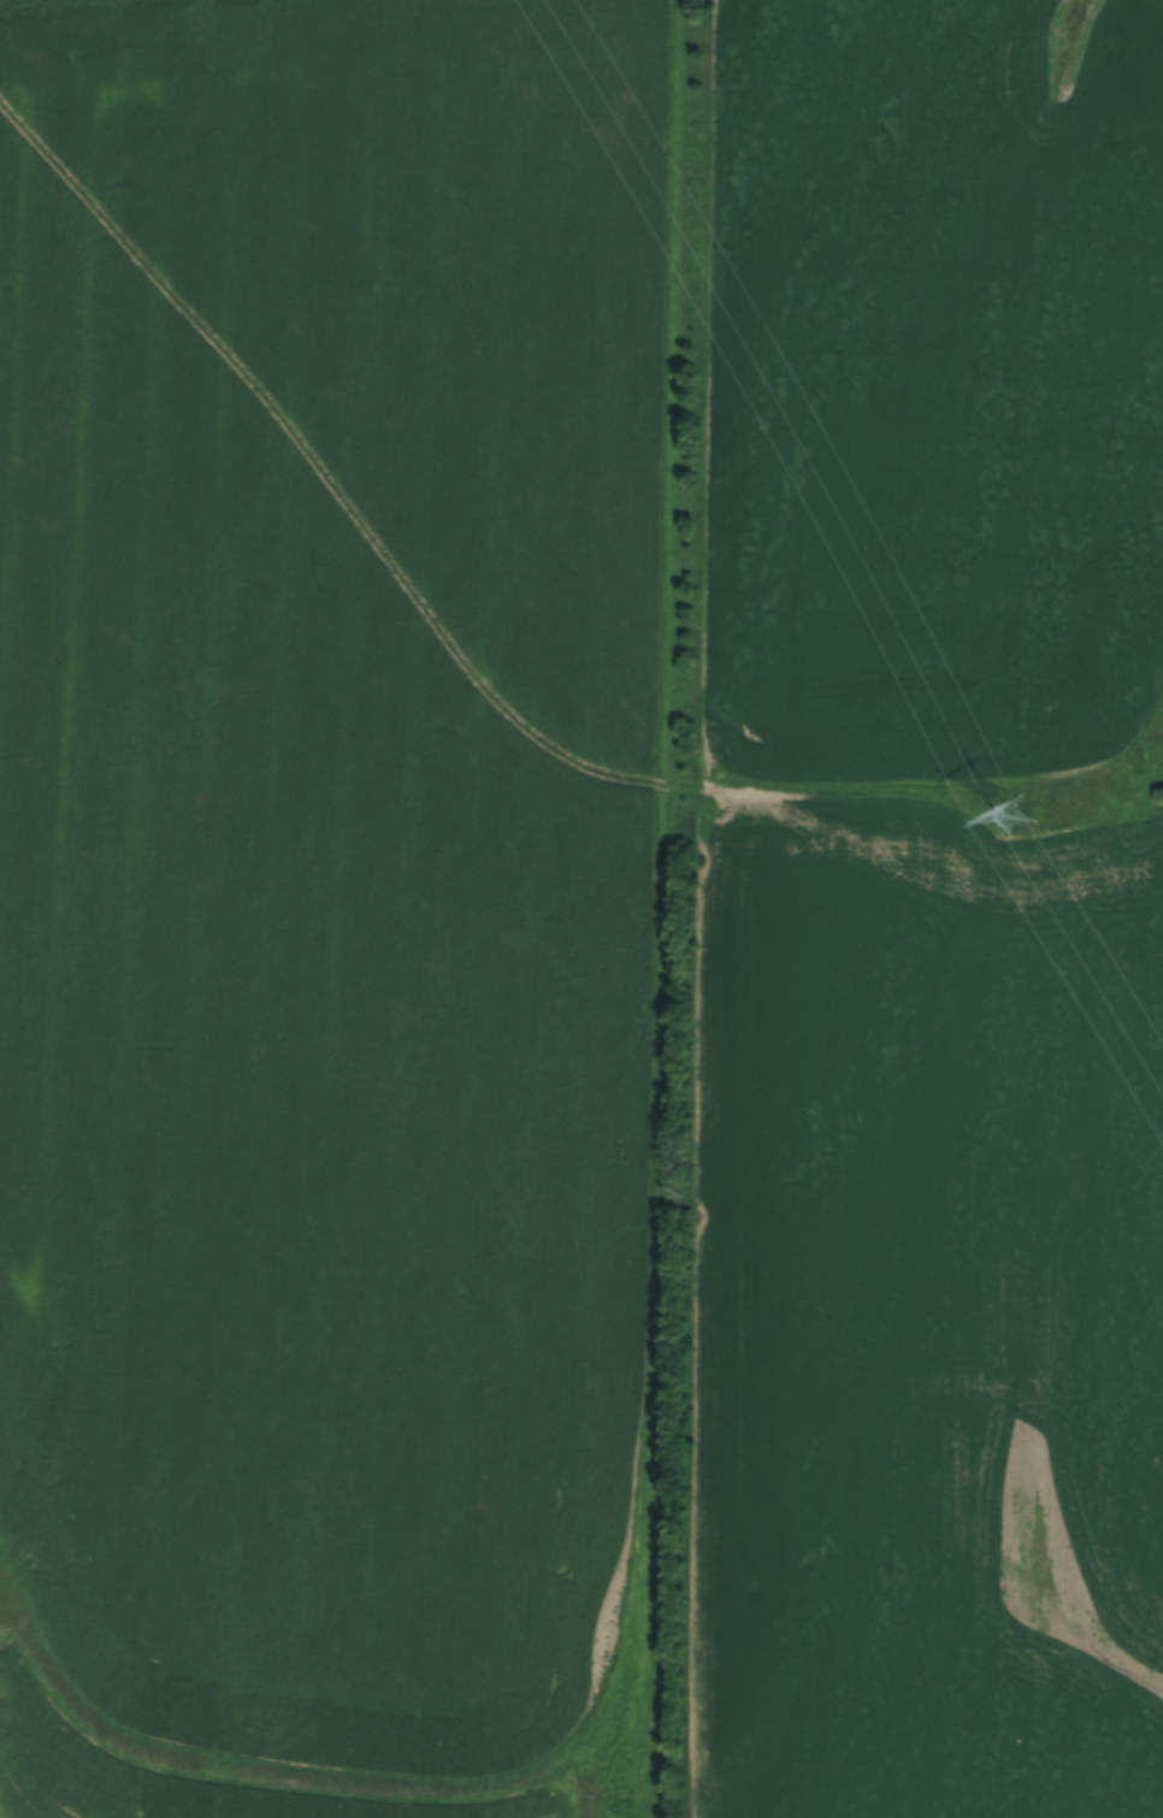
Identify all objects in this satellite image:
power tower: (1003, 821)

